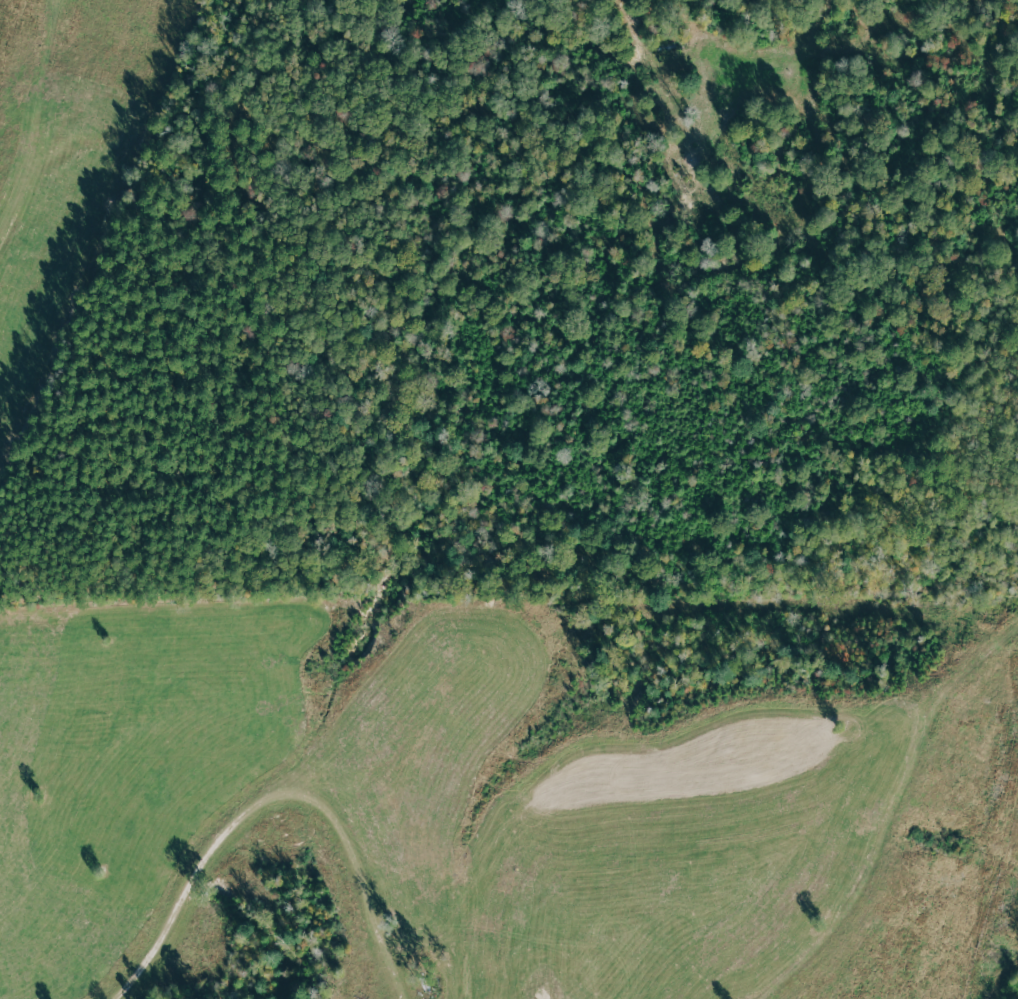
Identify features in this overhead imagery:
road: (143, 88)

